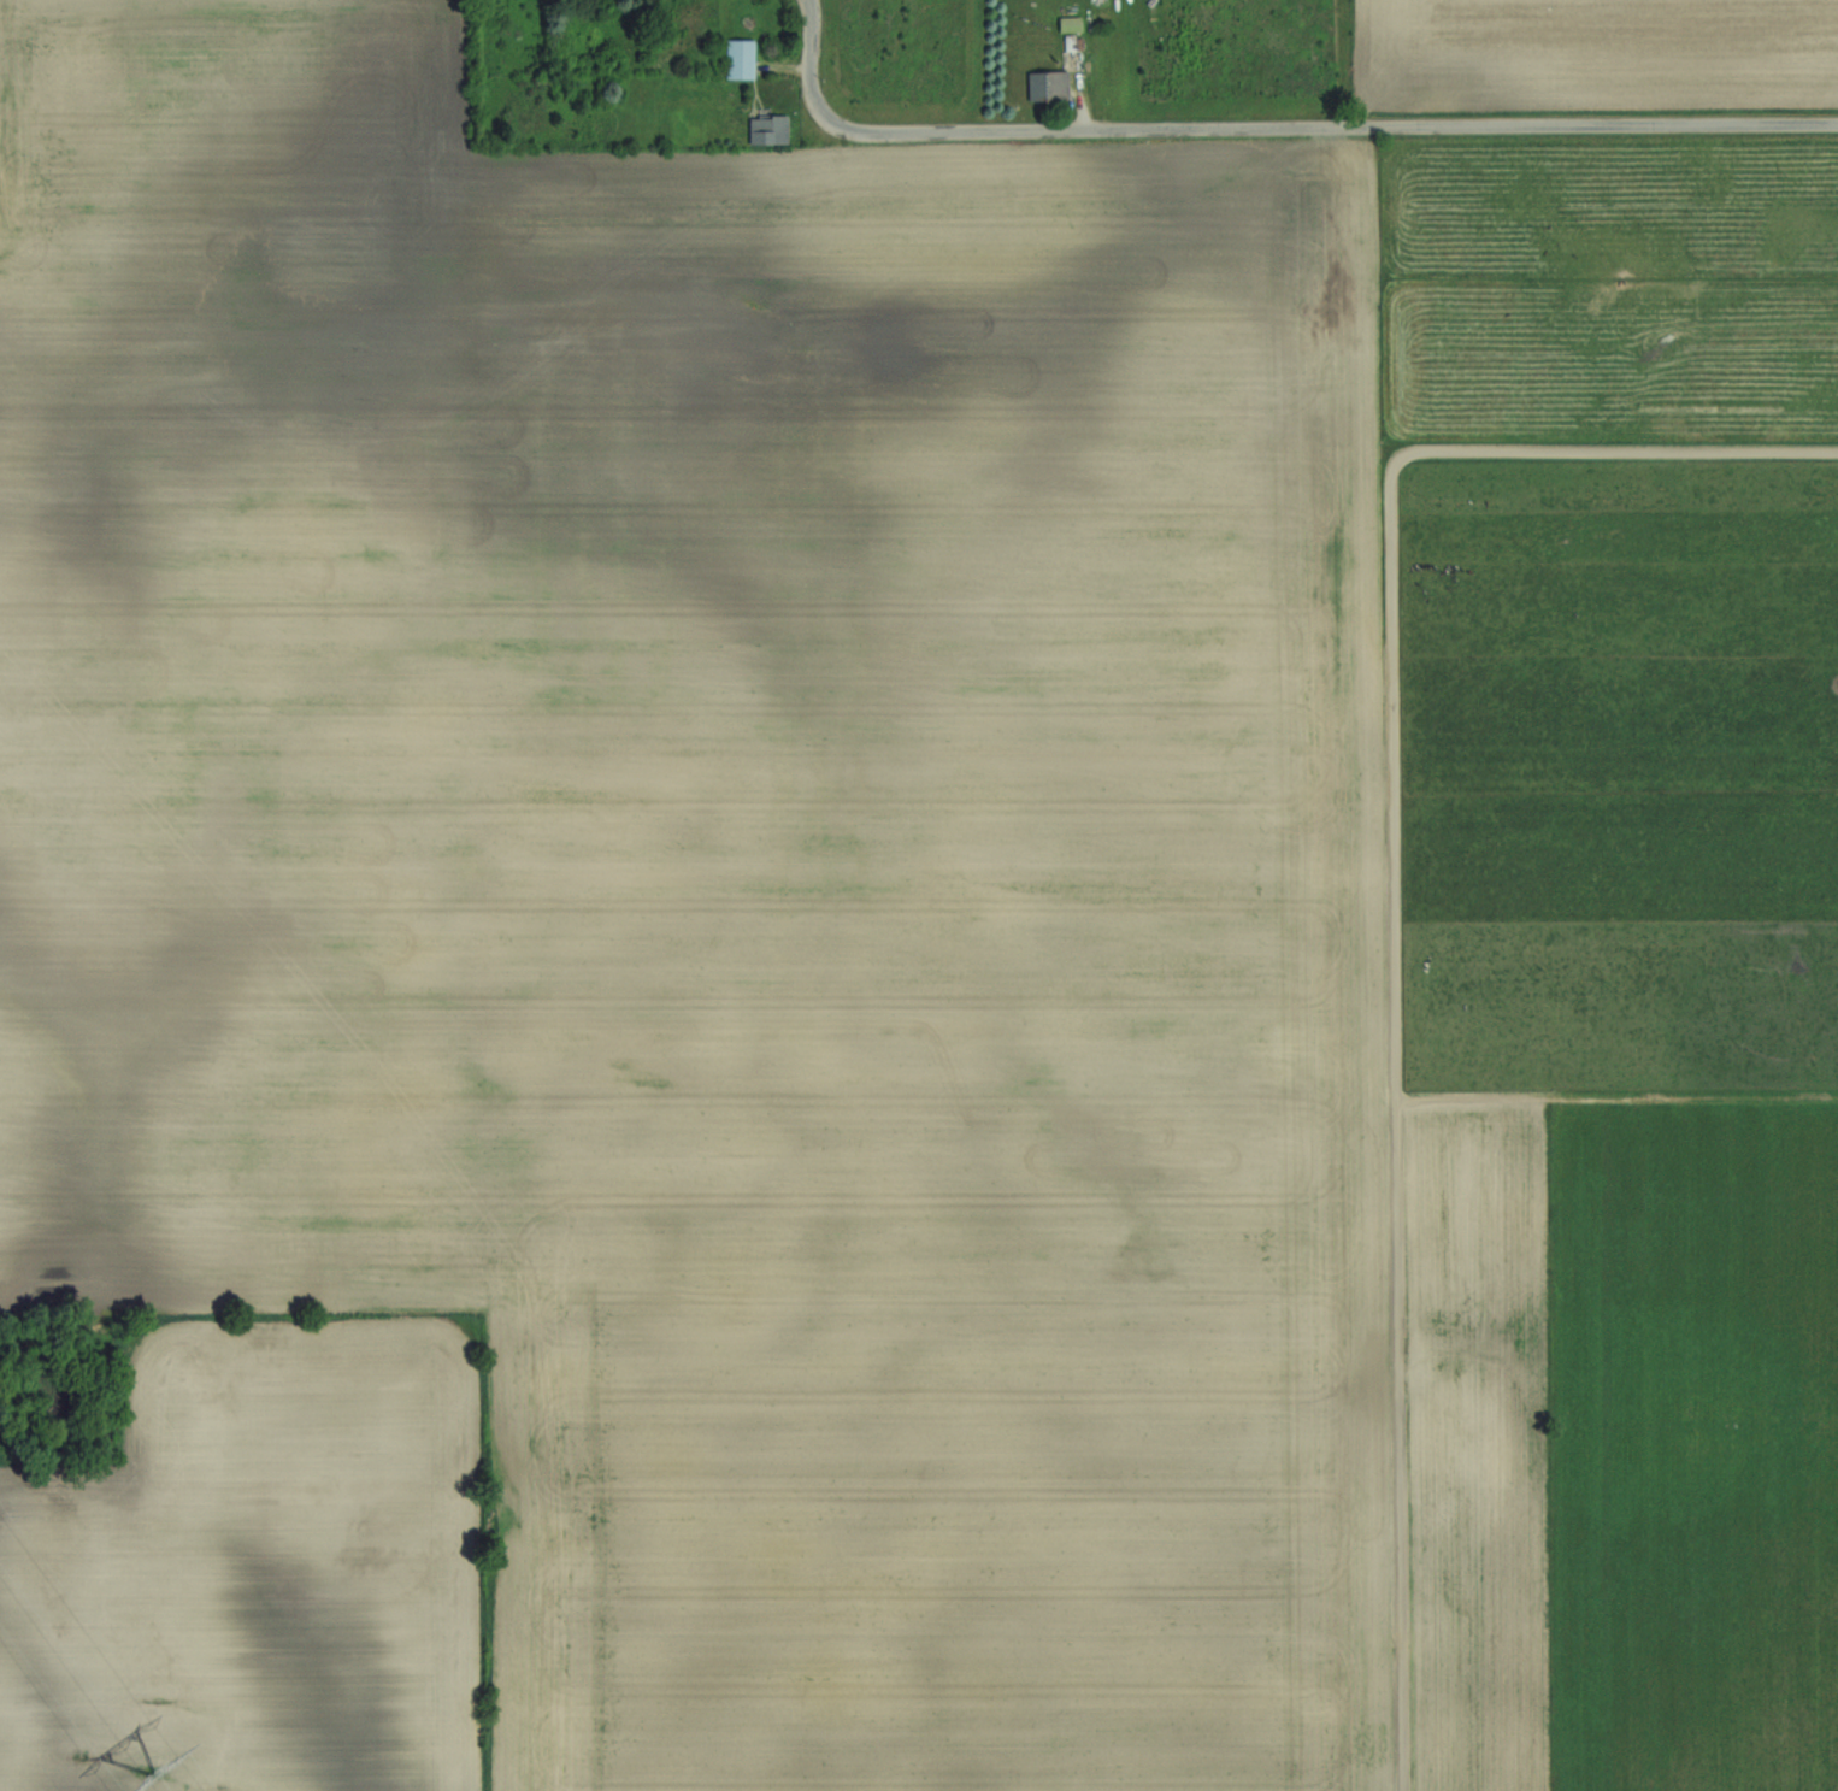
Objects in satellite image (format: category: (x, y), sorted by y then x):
building: (740, 58)
building: (1048, 83)
road: (1083, 113)
road: (1271, 128)
building: (770, 129)
road: (1396, 905)
power tower: (149, 1773)

